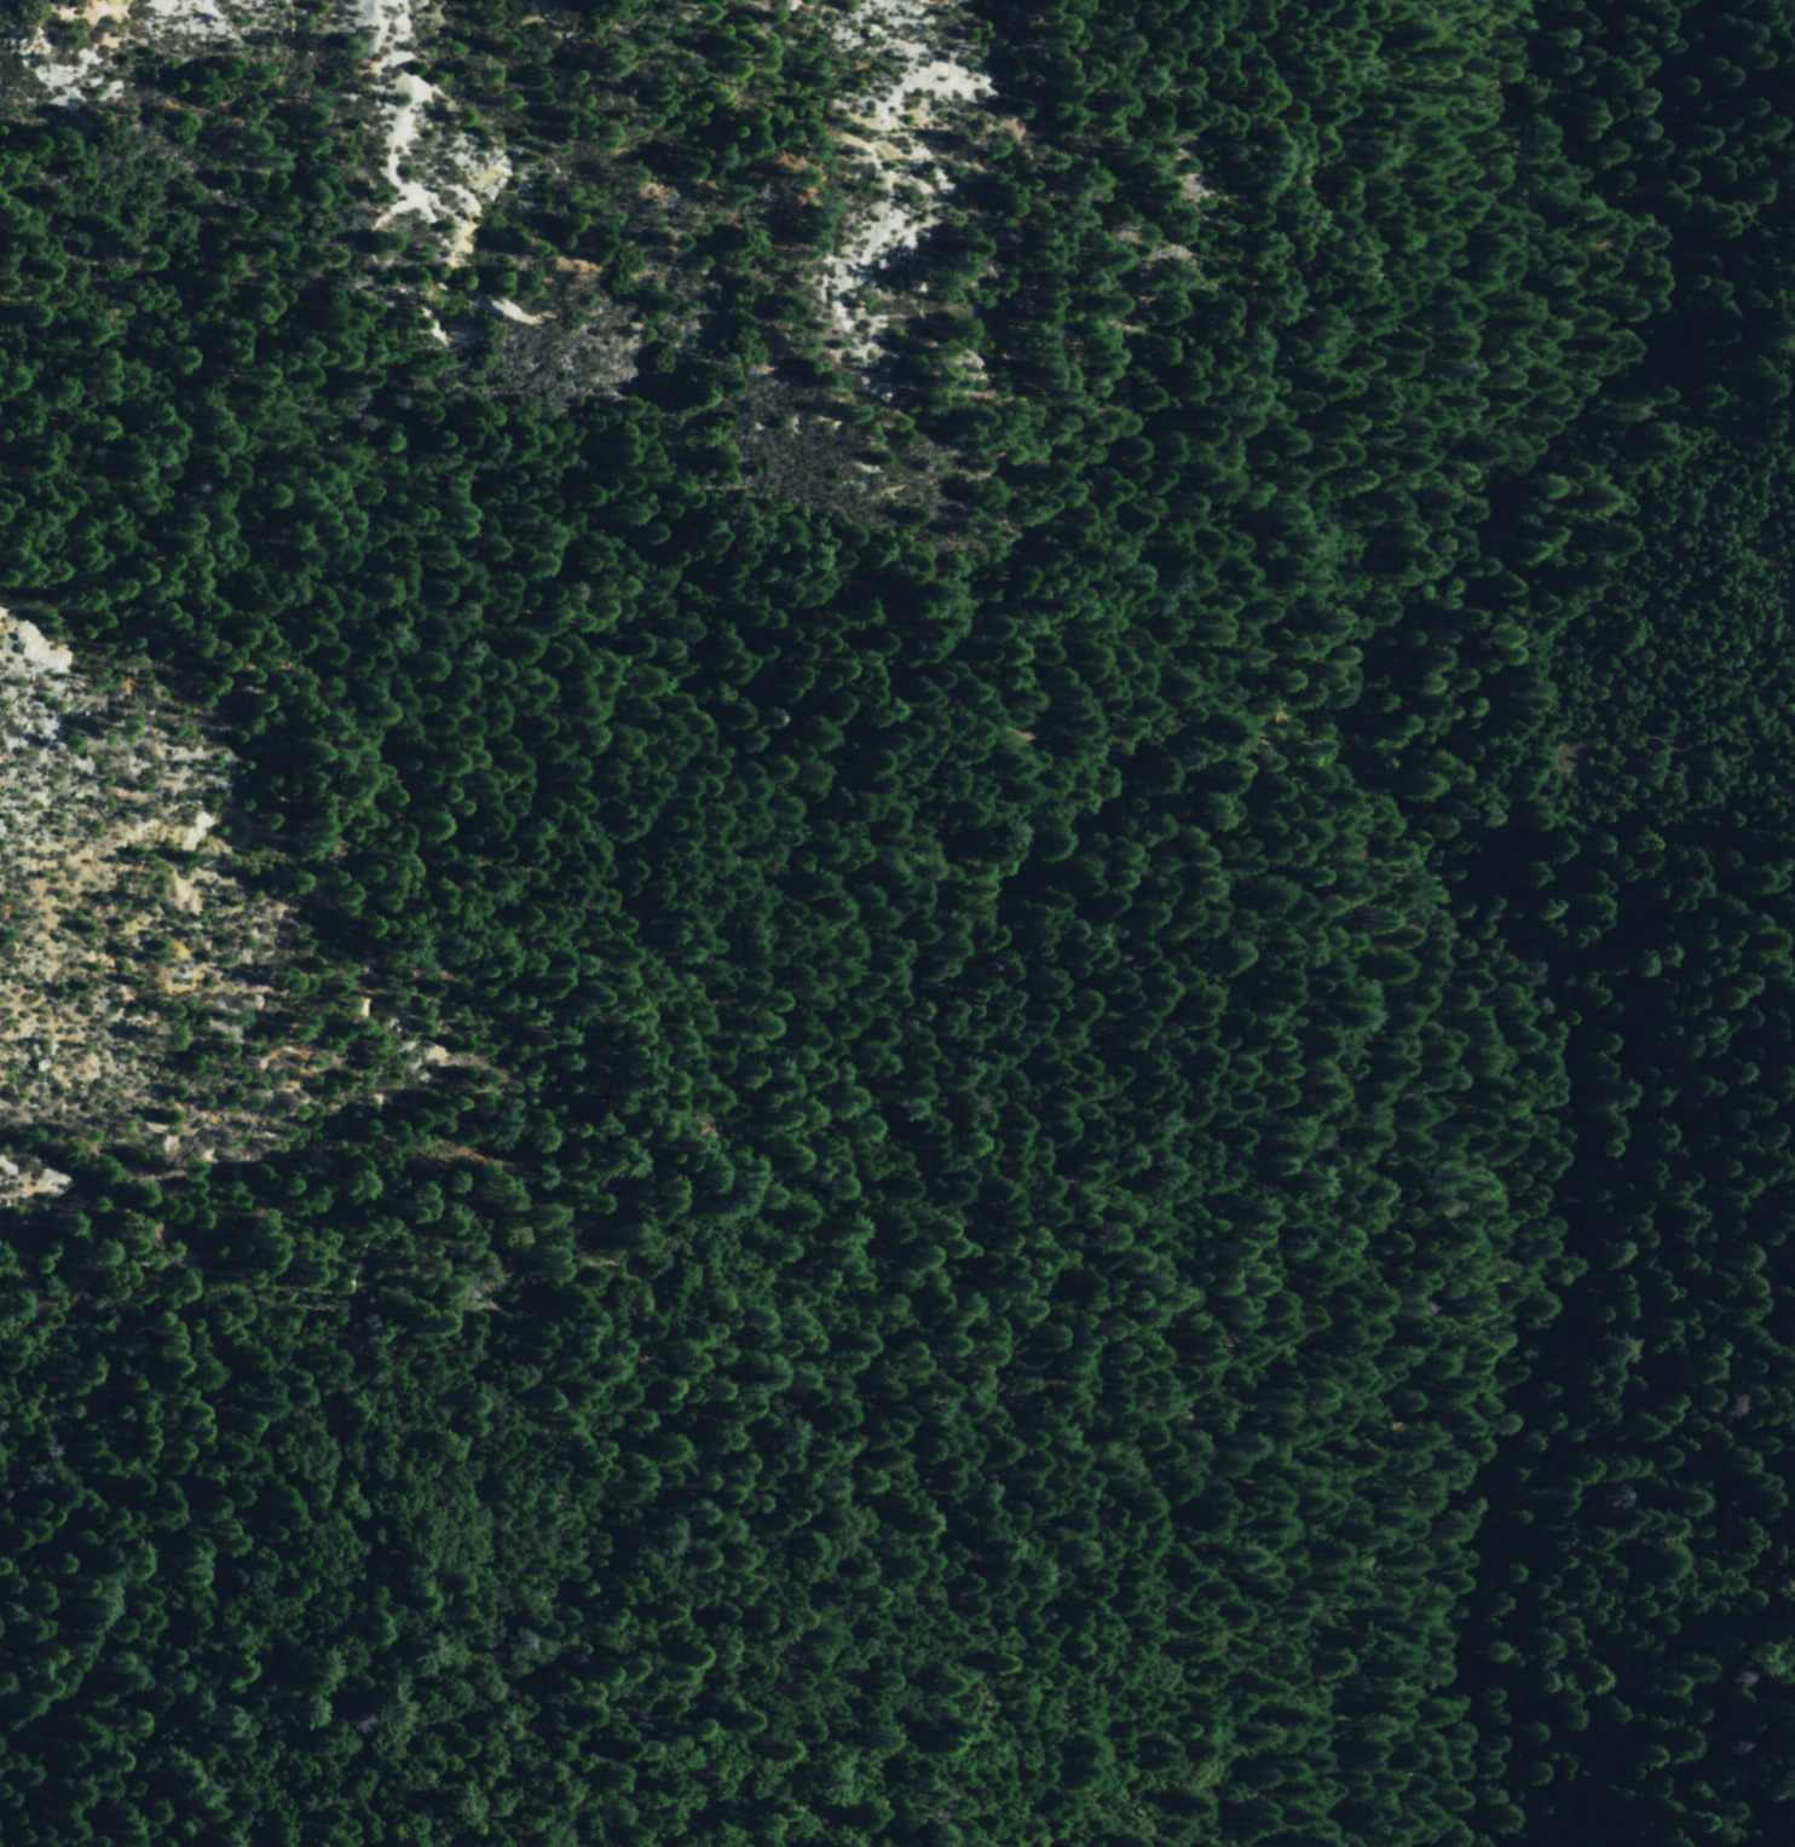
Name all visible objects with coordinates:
road: (1339, 842)
park: (897, 923)
road: (1426, 950)
road: (1511, 1075)
park: (1693, 1122)

